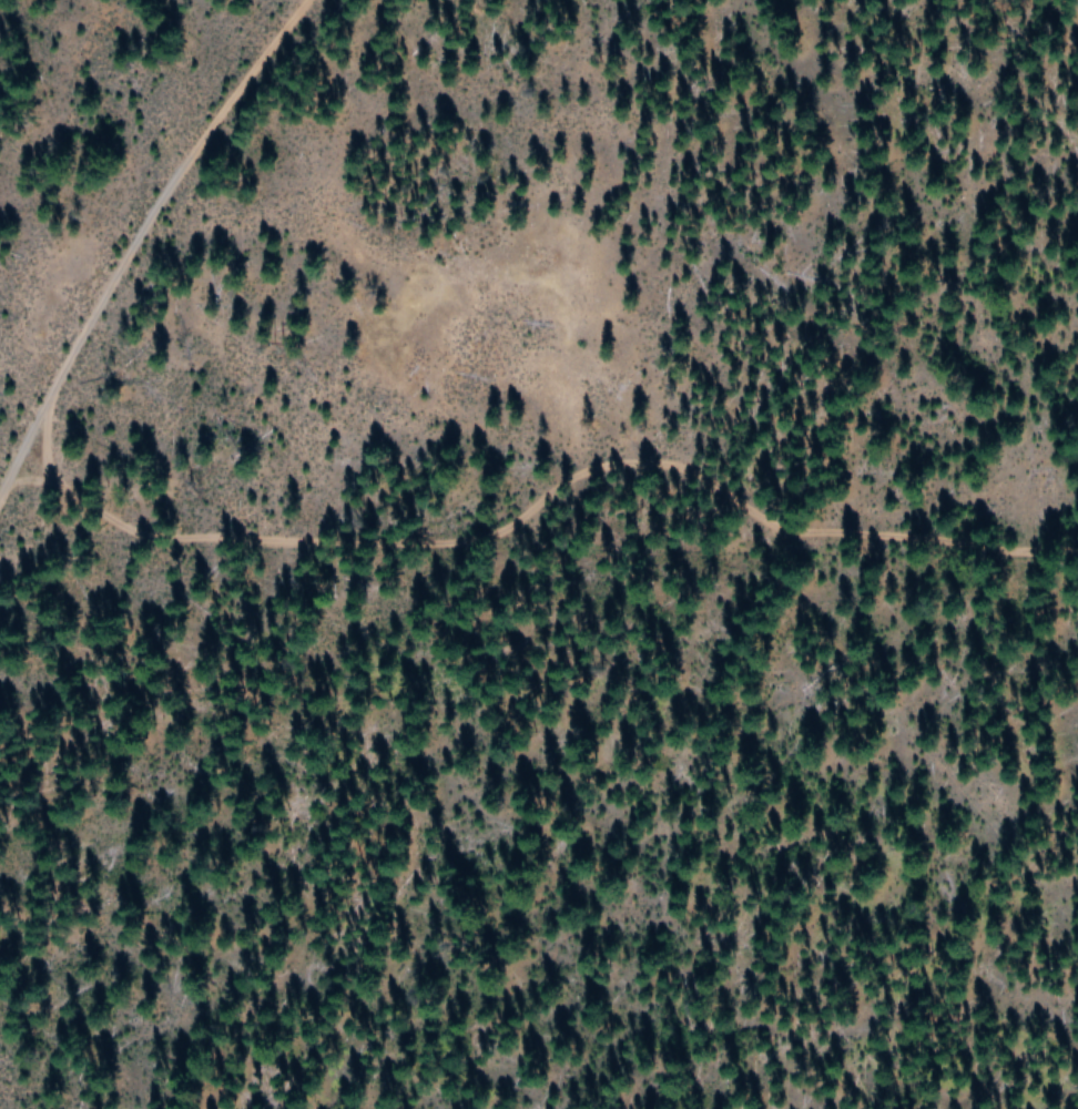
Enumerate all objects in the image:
road: (139, 235)
road: (536, 478)

